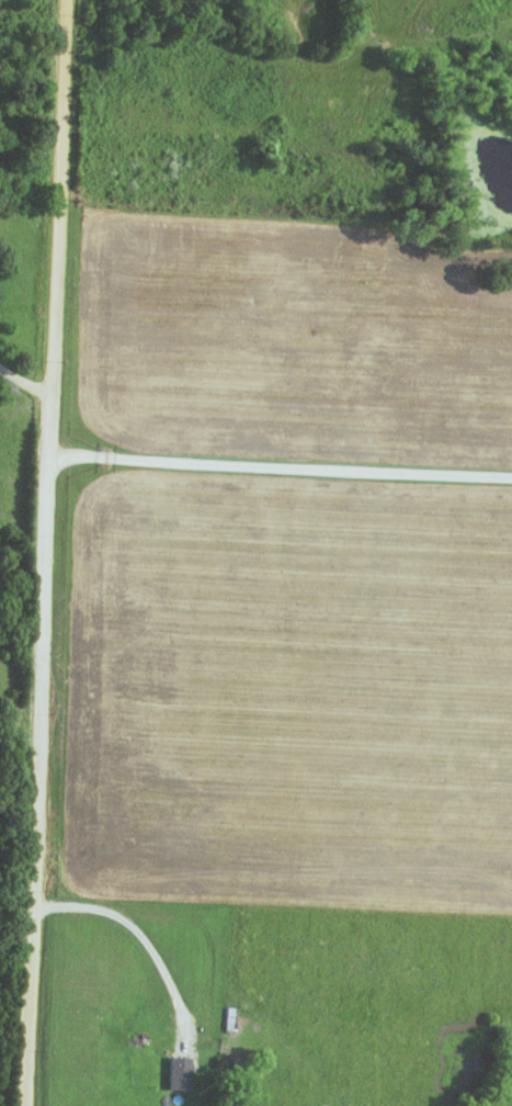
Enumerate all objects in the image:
road: (27, 383)
road: (53, 553)
road: (140, 936)

